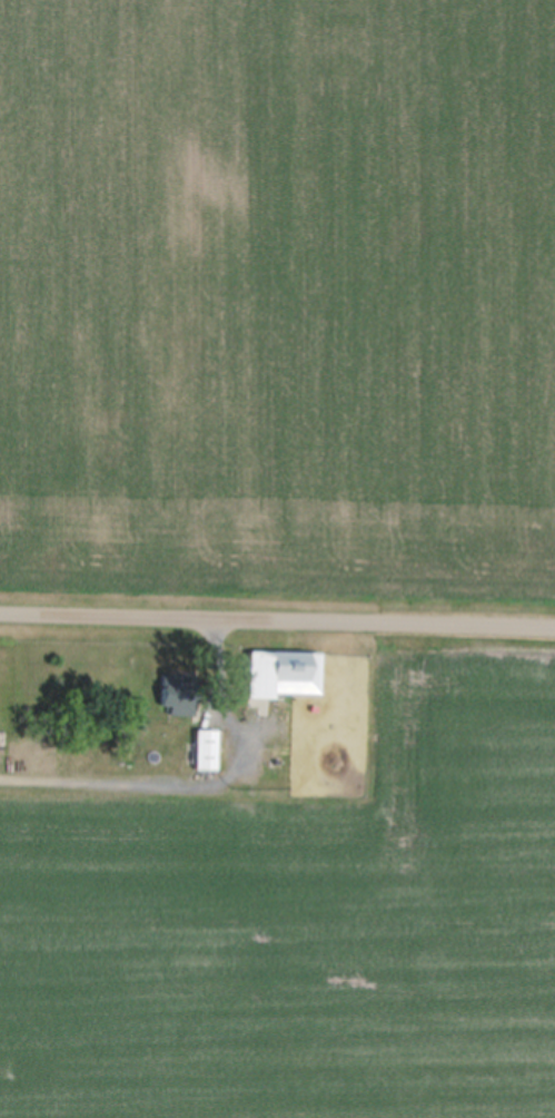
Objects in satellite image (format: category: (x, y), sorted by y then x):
road: (277, 616)
building: (284, 671)
building: (177, 694)
building: (206, 747)

